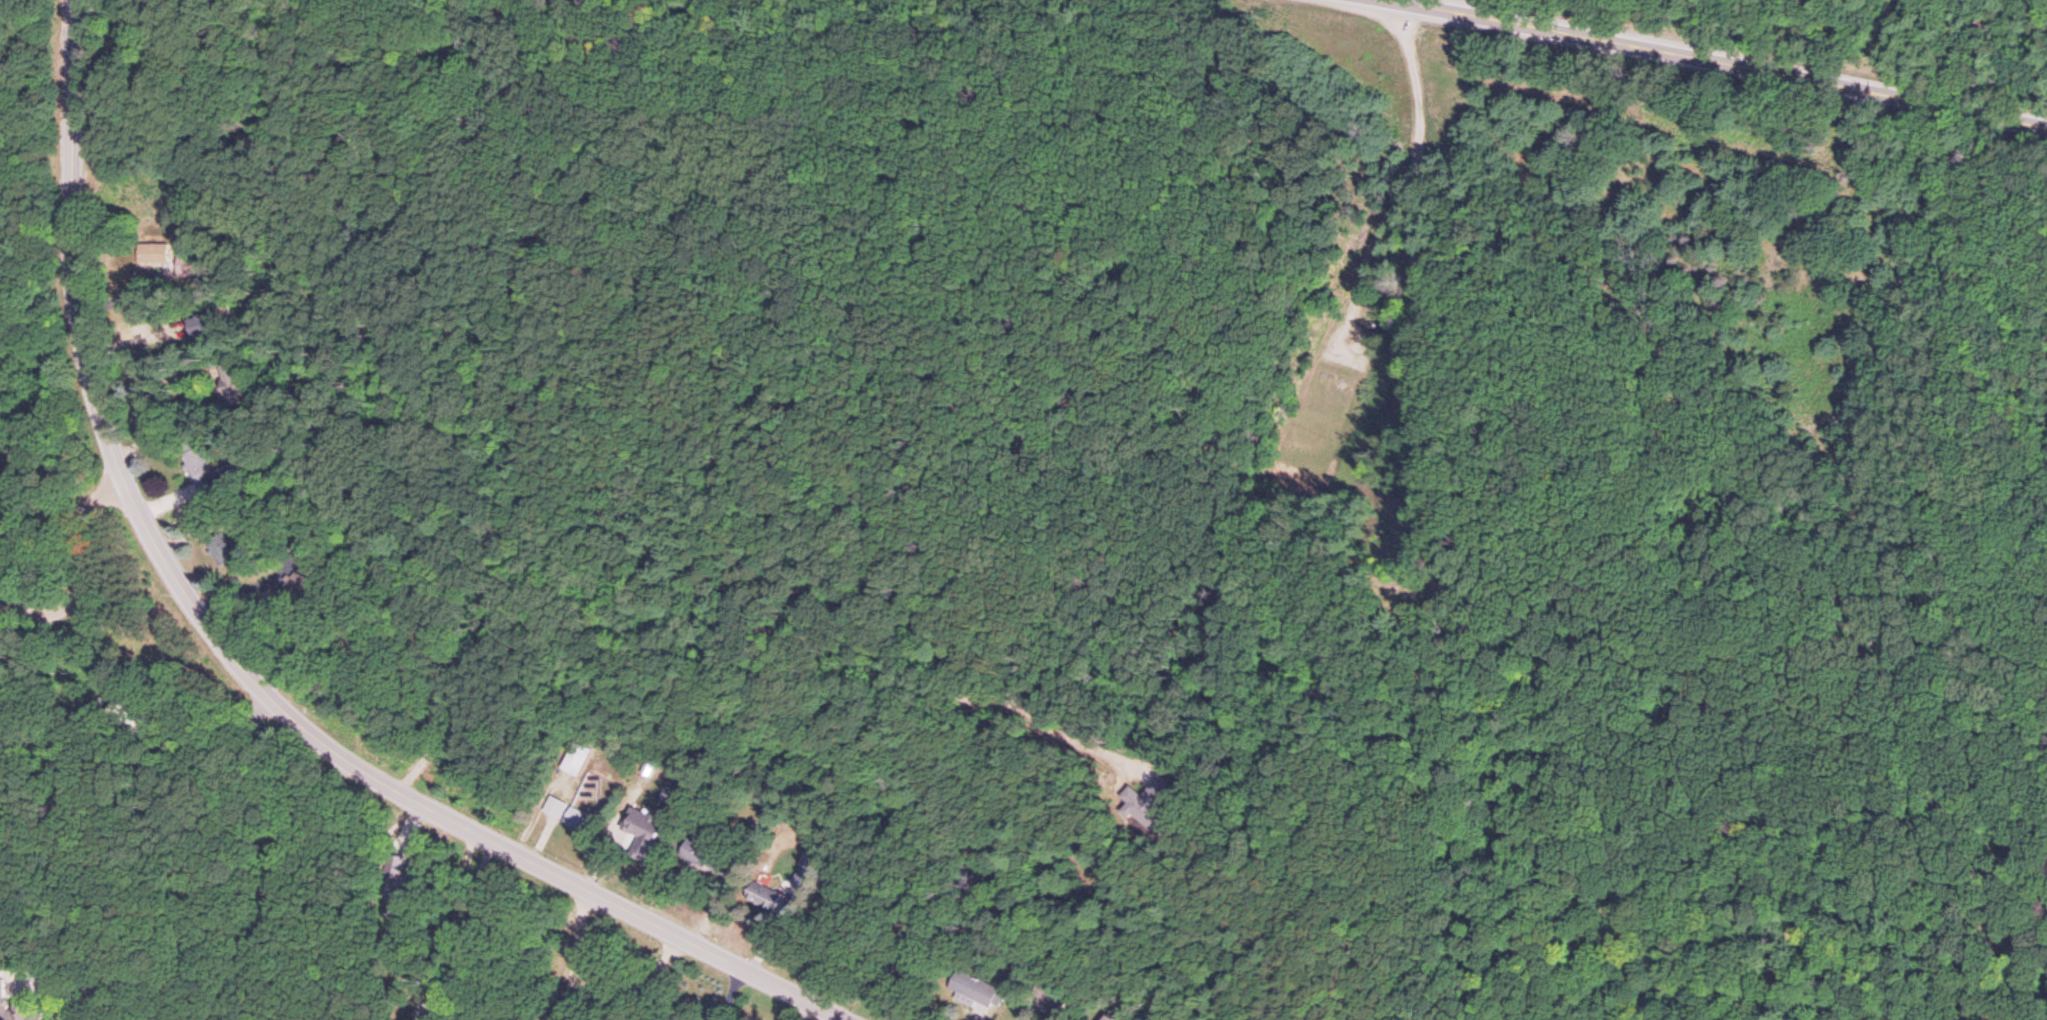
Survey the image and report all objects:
road: (1721, 55)
road: (1417, 161)
building: (151, 255)
park: (1327, 418)
building: (196, 467)
road: (83, 527)
road: (43, 612)
road: (237, 665)
building: (575, 762)
road: (101, 790)
building: (554, 810)
building: (576, 822)
building: (642, 829)
building: (695, 856)
building: (975, 995)
building: (3, 1000)
building: (1108, 1018)

